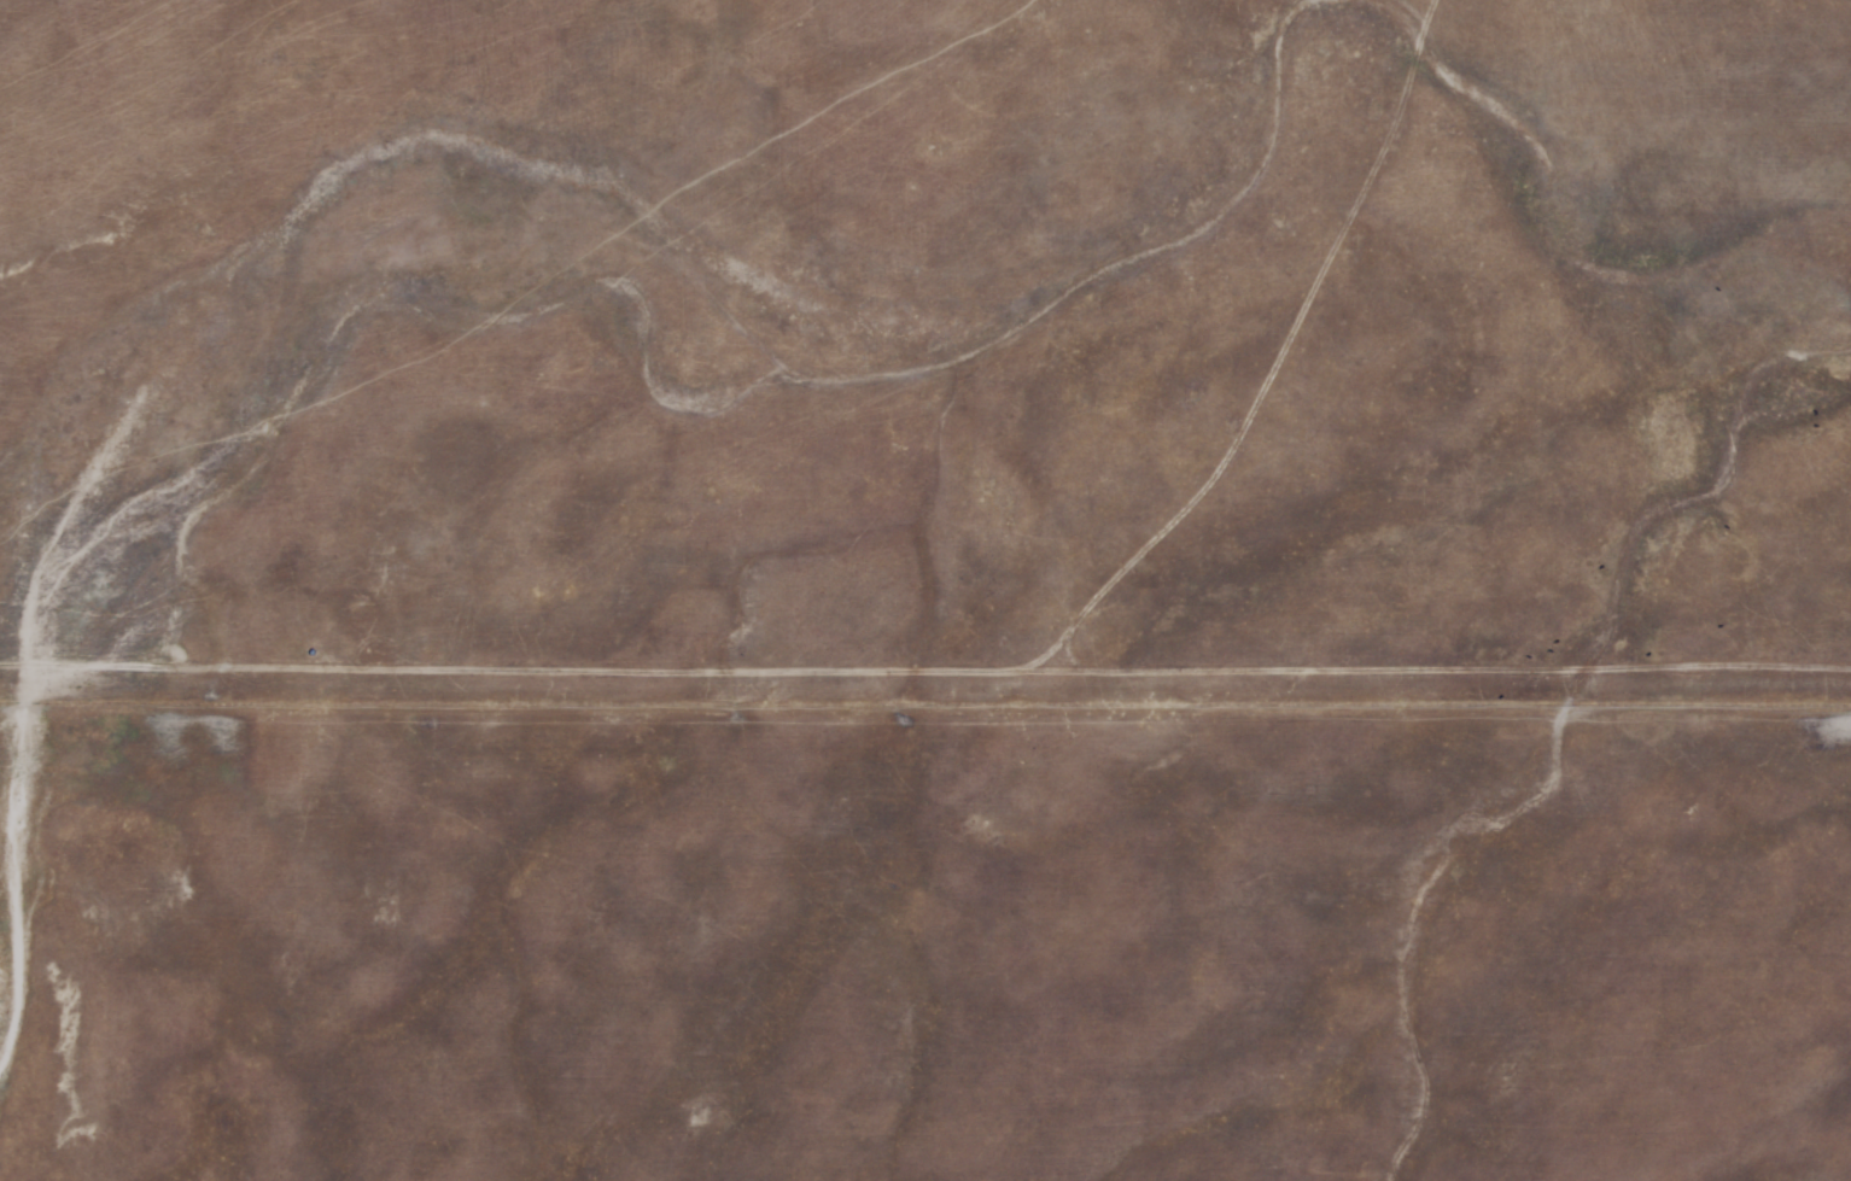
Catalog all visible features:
road: (925, 678)

